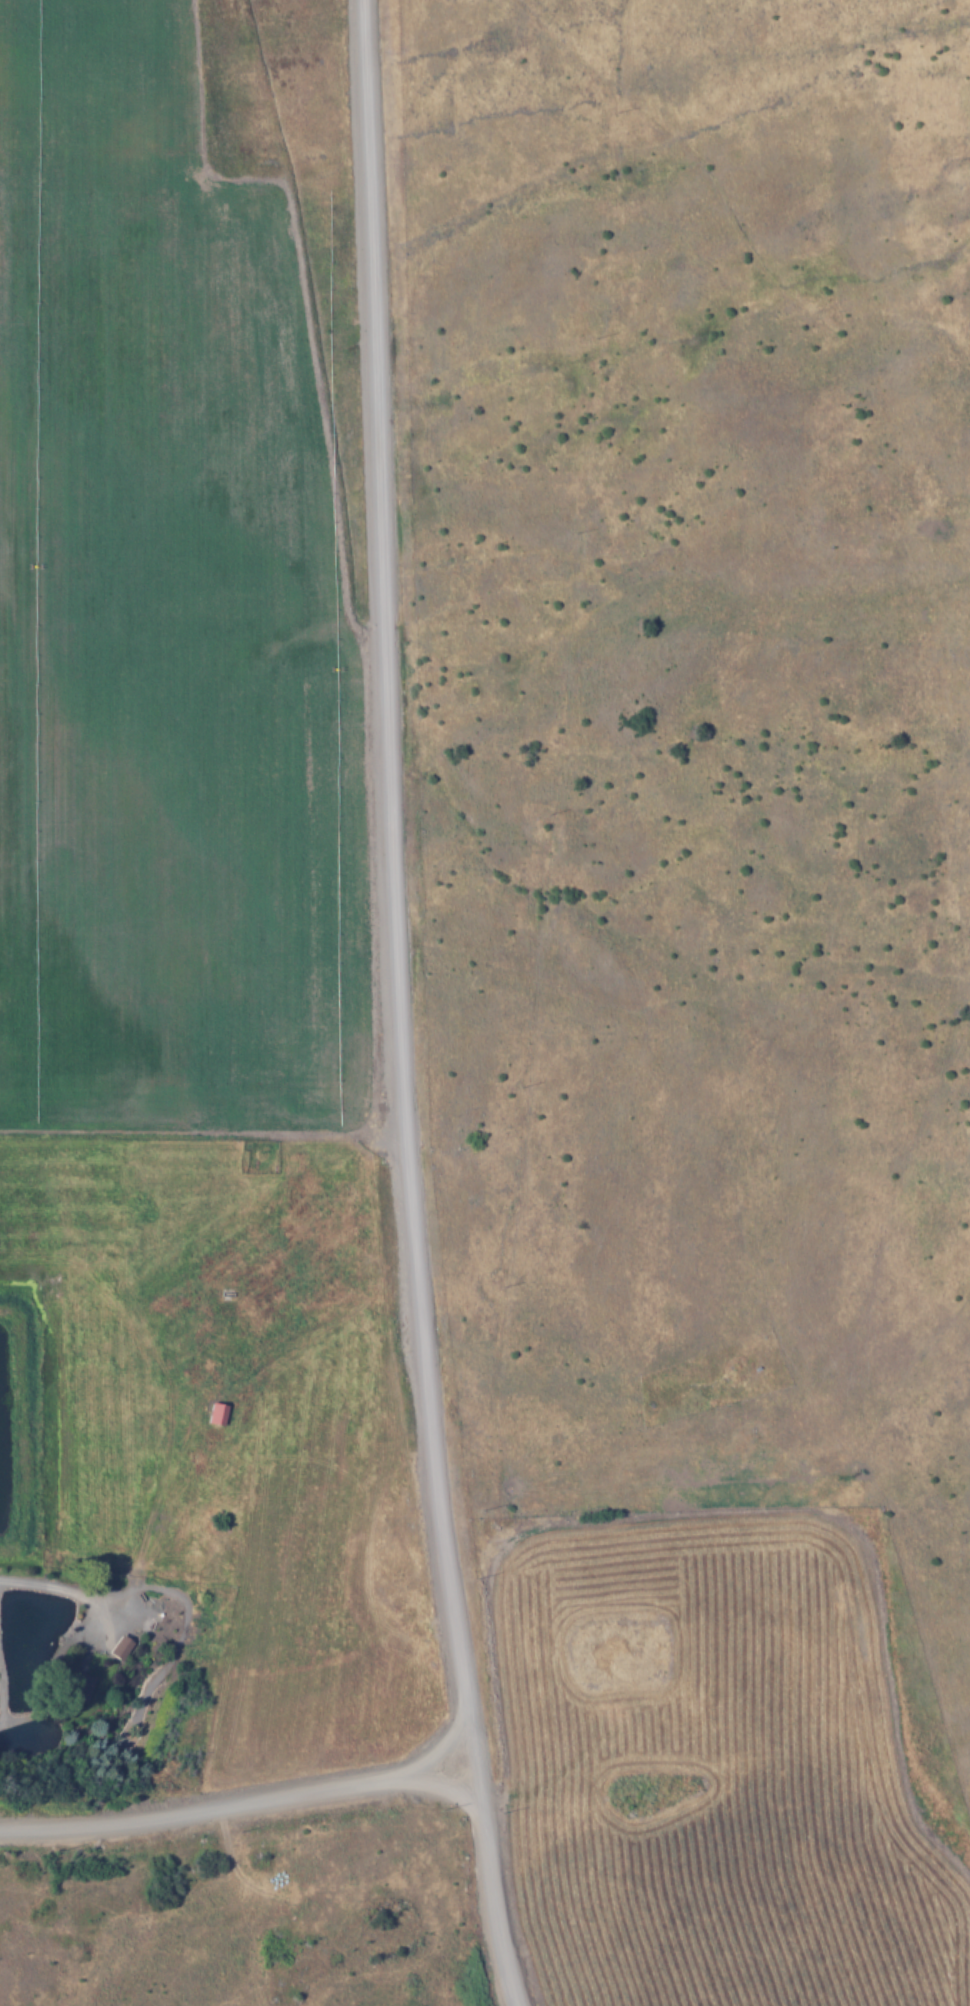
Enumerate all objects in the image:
road: (398, 1006)
building: (217, 1412)
road: (39, 1593)
building: (81, 1685)
road: (245, 1812)

